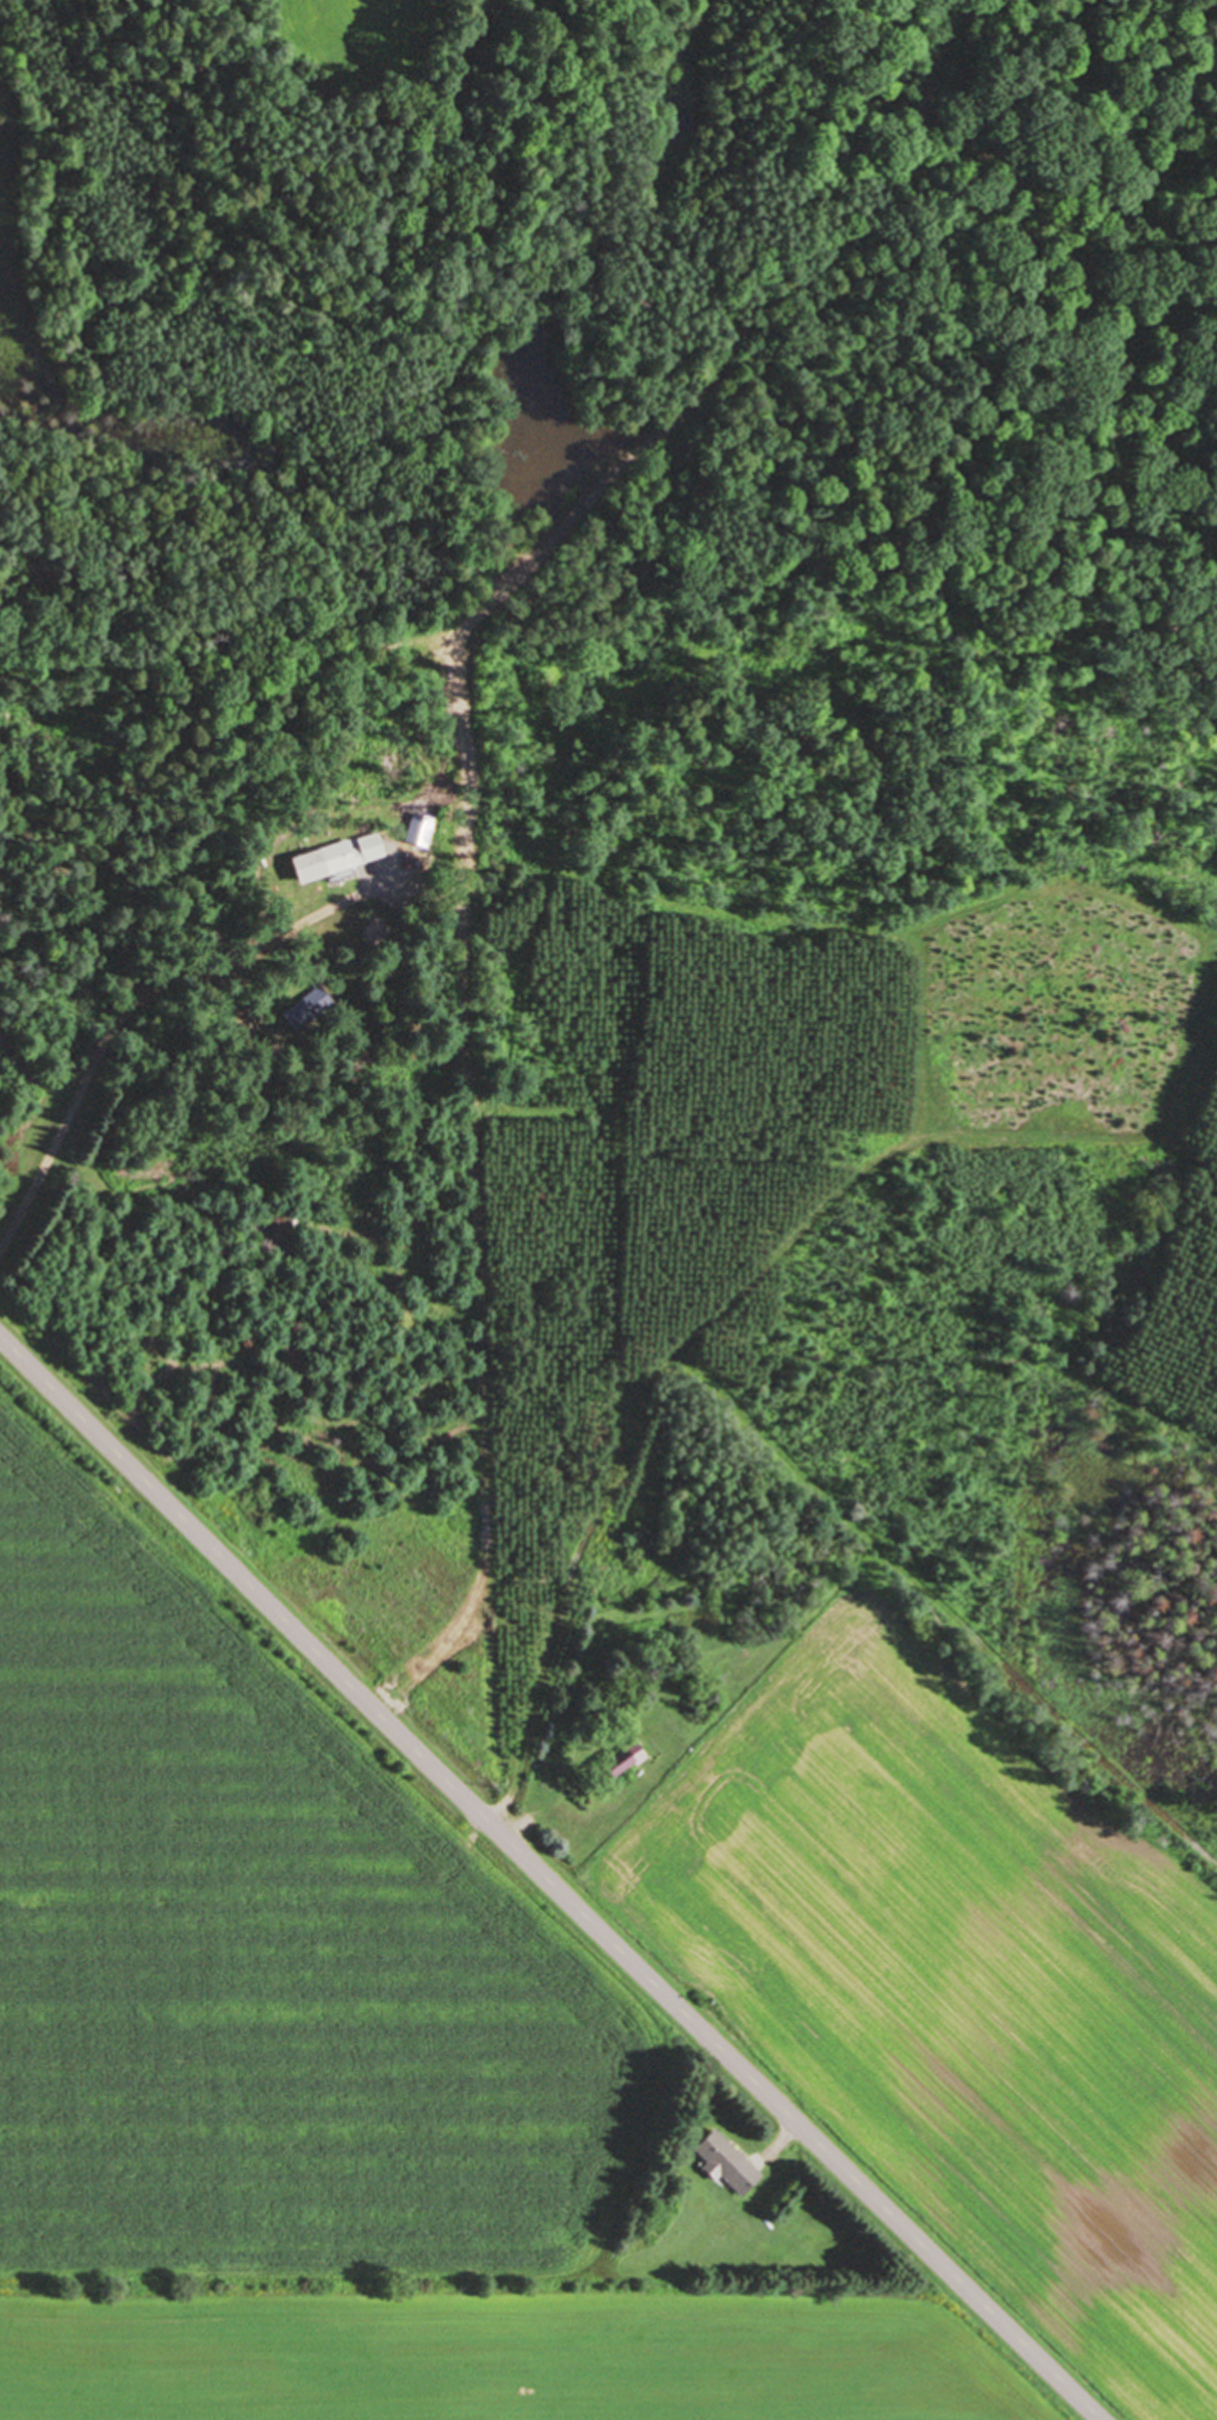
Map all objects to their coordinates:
road: (123, 1012)
road: (547, 1880)
road: (781, 2135)
building: (732, 2165)

